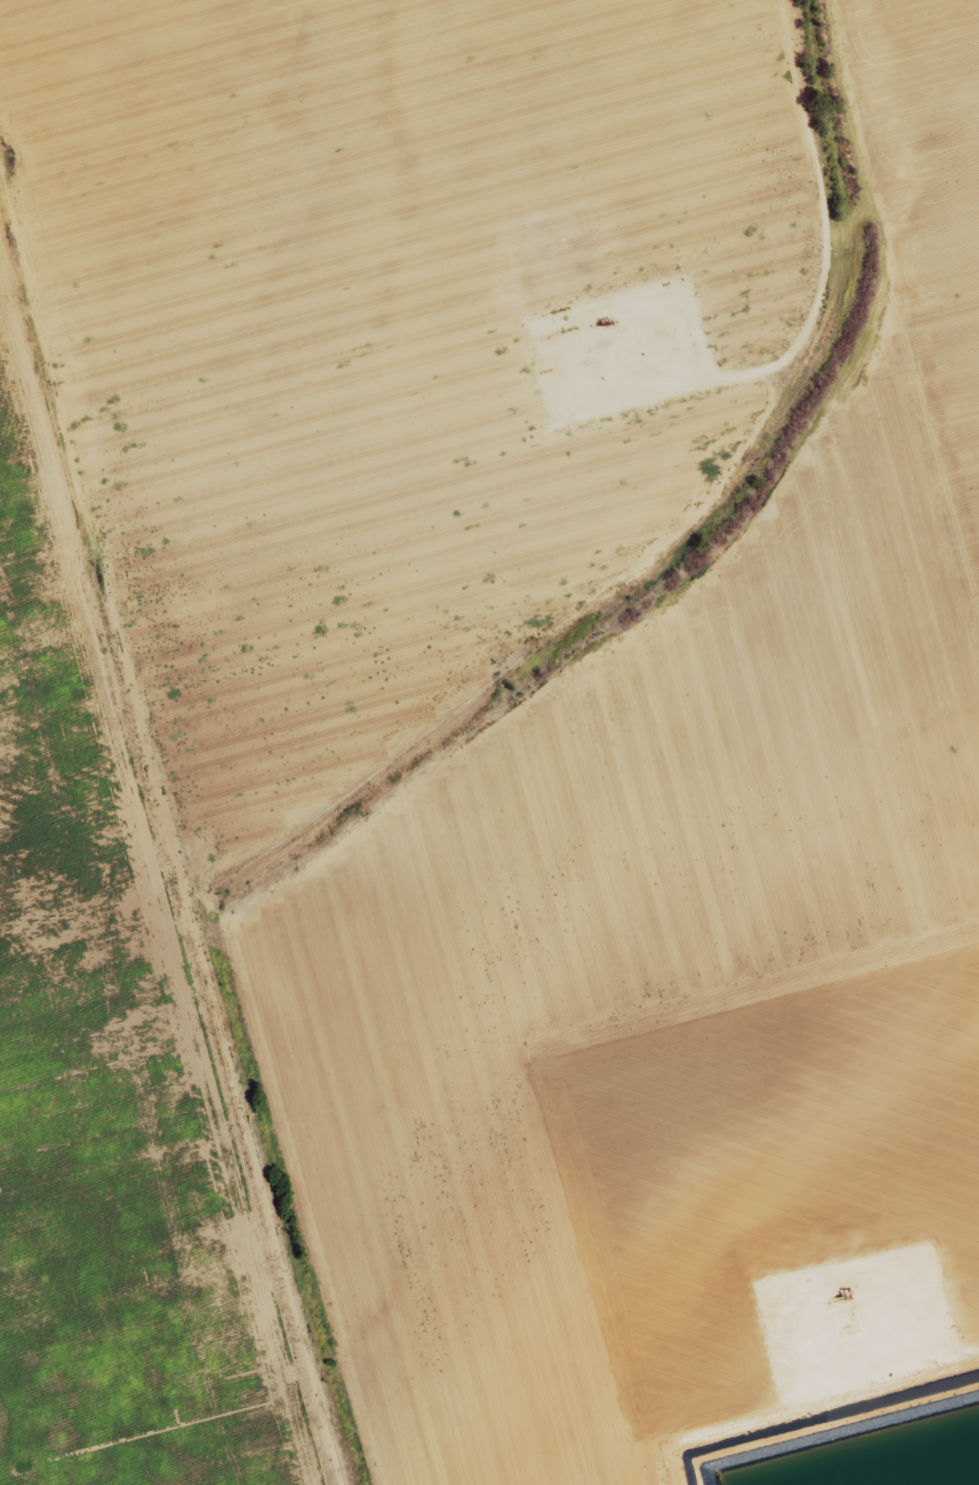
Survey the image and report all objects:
building: (587, 416)

